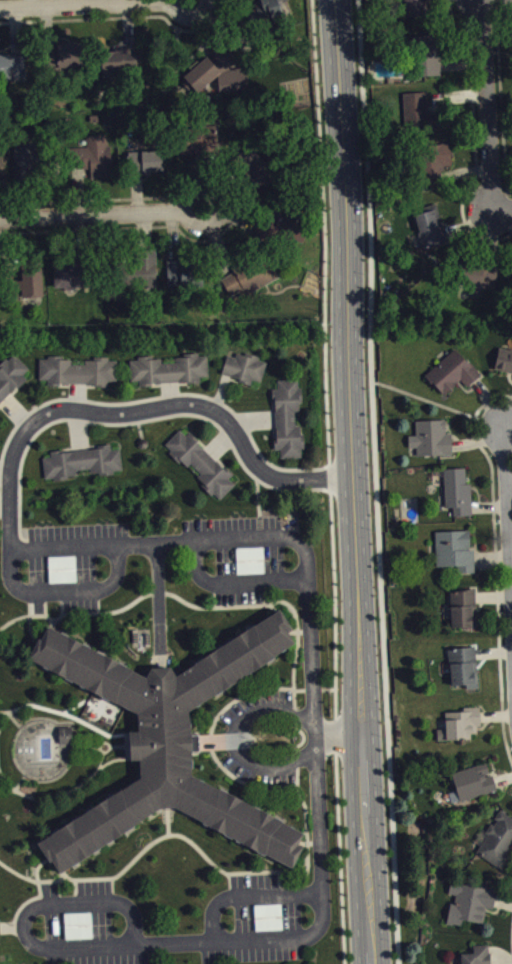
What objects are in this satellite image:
road: (94, 7)
building: (276, 11)
building: (415, 11)
building: (428, 62)
building: (72, 63)
building: (122, 67)
building: (13, 73)
building: (219, 79)
road: (489, 106)
building: (417, 114)
building: (194, 152)
building: (97, 163)
building: (27, 167)
building: (147, 169)
building: (437, 172)
building: (2, 173)
building: (256, 174)
road: (503, 211)
road: (103, 216)
building: (432, 233)
building: (147, 273)
building: (72, 280)
building: (185, 281)
building: (252, 284)
building: (480, 284)
building: (32, 290)
building: (505, 367)
building: (246, 374)
building: (170, 376)
building: (79, 378)
building: (453, 379)
building: (12, 382)
building: (289, 425)
building: (433, 445)
building: (83, 469)
building: (202, 470)
road: (329, 481)
road: (352, 481)
road: (374, 482)
building: (459, 498)
road: (509, 500)
road: (243, 538)
building: (456, 558)
building: (252, 567)
building: (64, 576)
building: (465, 615)
building: (465, 674)
building: (462, 731)
road: (338, 733)
road: (232, 738)
building: (67, 742)
building: (170, 773)
building: (475, 788)
building: (498, 848)
building: (471, 910)
building: (270, 924)
building: (80, 932)
building: (0, 940)
building: (480, 958)

